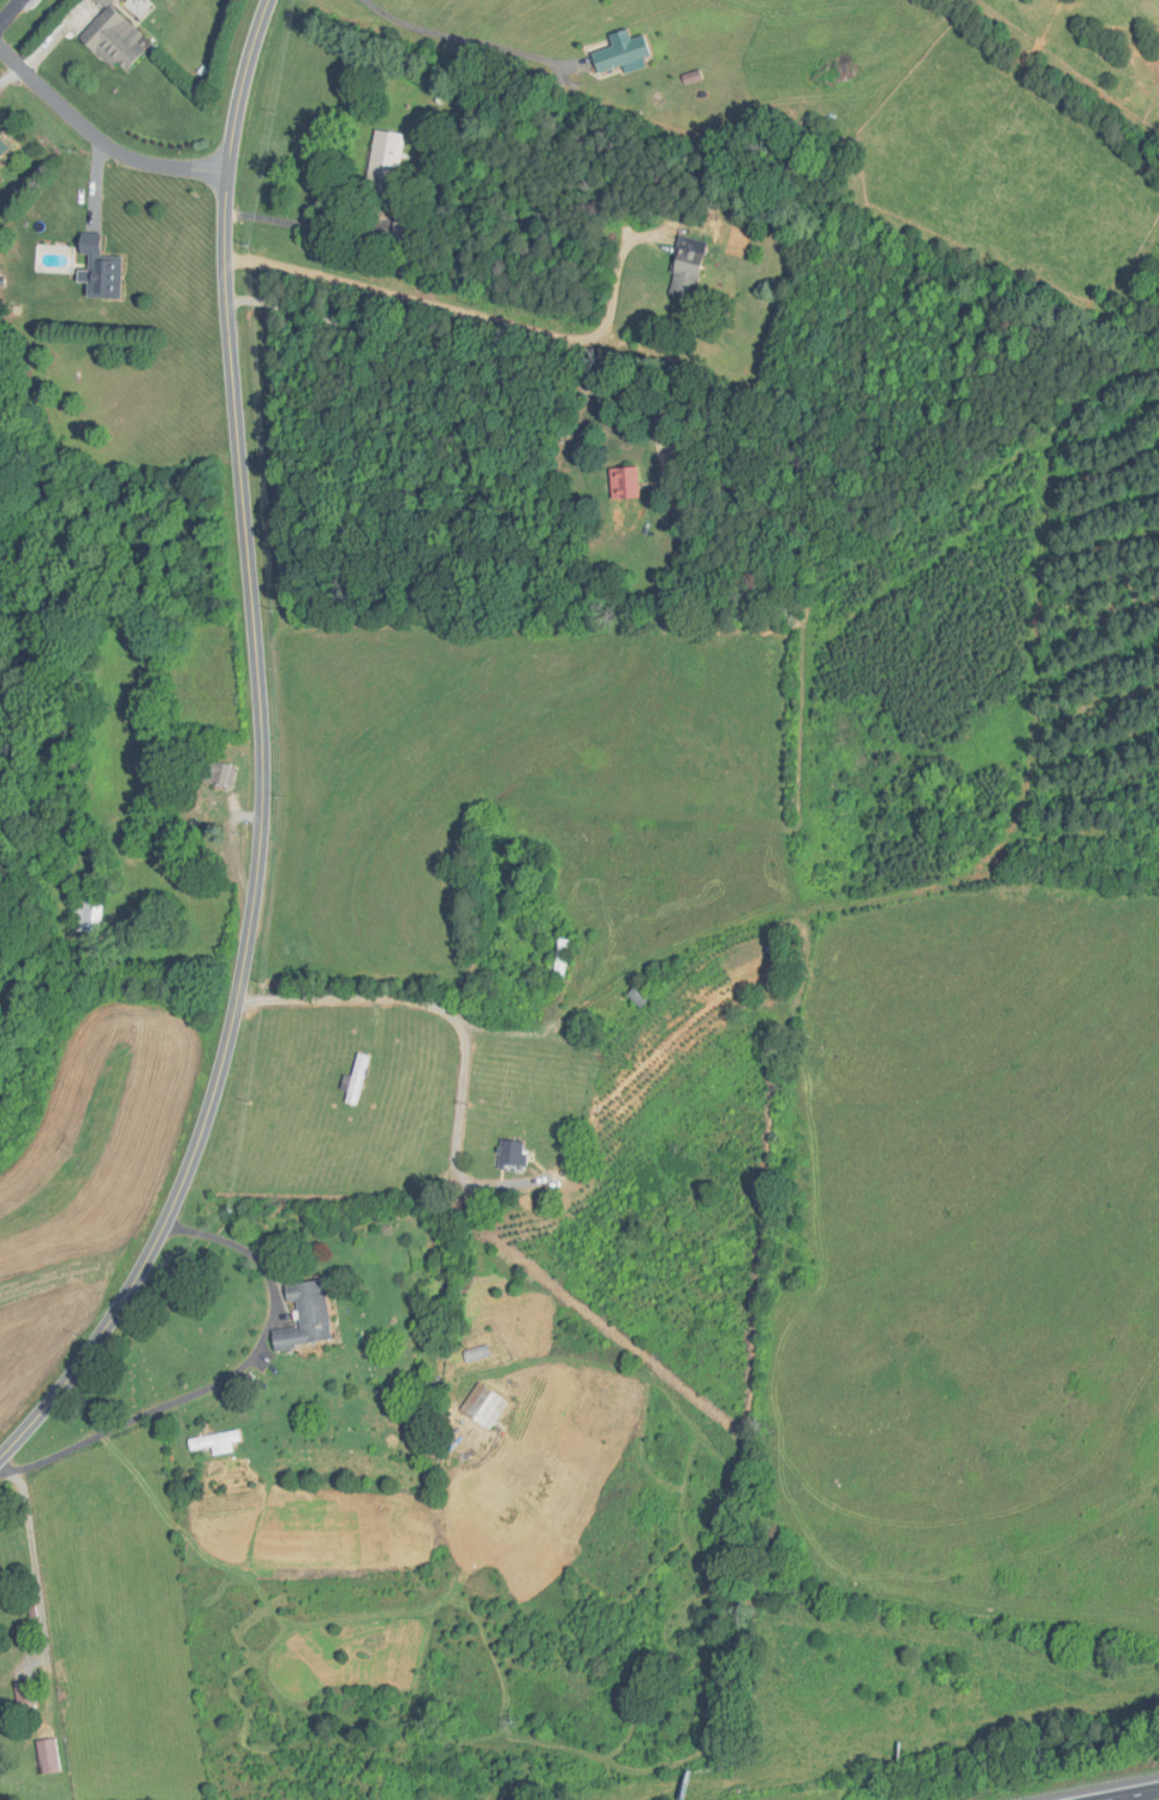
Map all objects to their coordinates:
building: (117, 42)
building: (618, 54)
road: (100, 138)
building: (1, 147)
building: (380, 162)
building: (95, 268)
building: (682, 271)
road: (472, 315)
road: (444, 347)
building: (623, 483)
road: (262, 759)
building: (214, 774)
building: (82, 917)
building: (555, 962)
building: (635, 996)
road: (429, 1004)
building: (352, 1080)
building: (505, 1156)
building: (301, 1317)
road: (225, 1378)
building: (480, 1404)
building: (215, 1455)
road: (34, 1567)
building: (22, 1692)
building: (44, 1756)
road: (1133, 1794)

